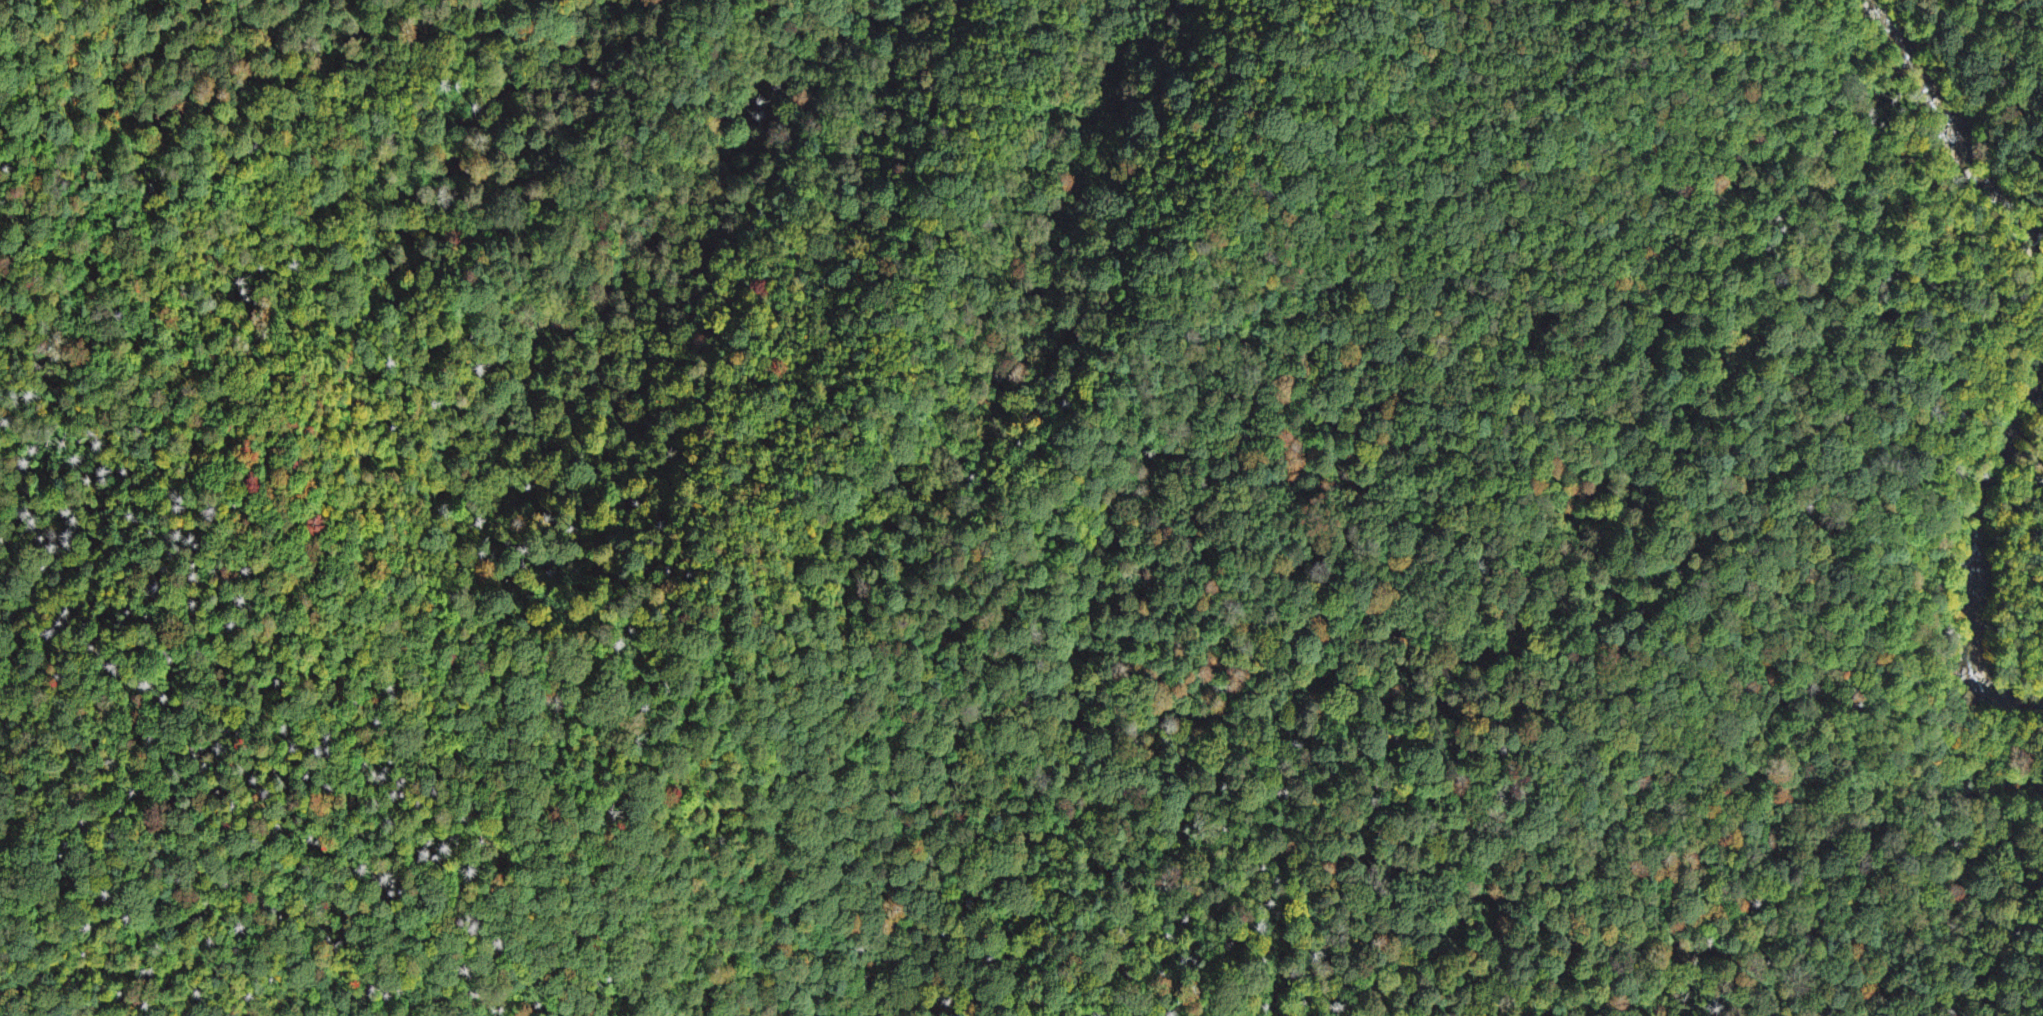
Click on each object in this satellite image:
road: (1985, 98)
river: (1972, 116)
river: (1985, 556)

